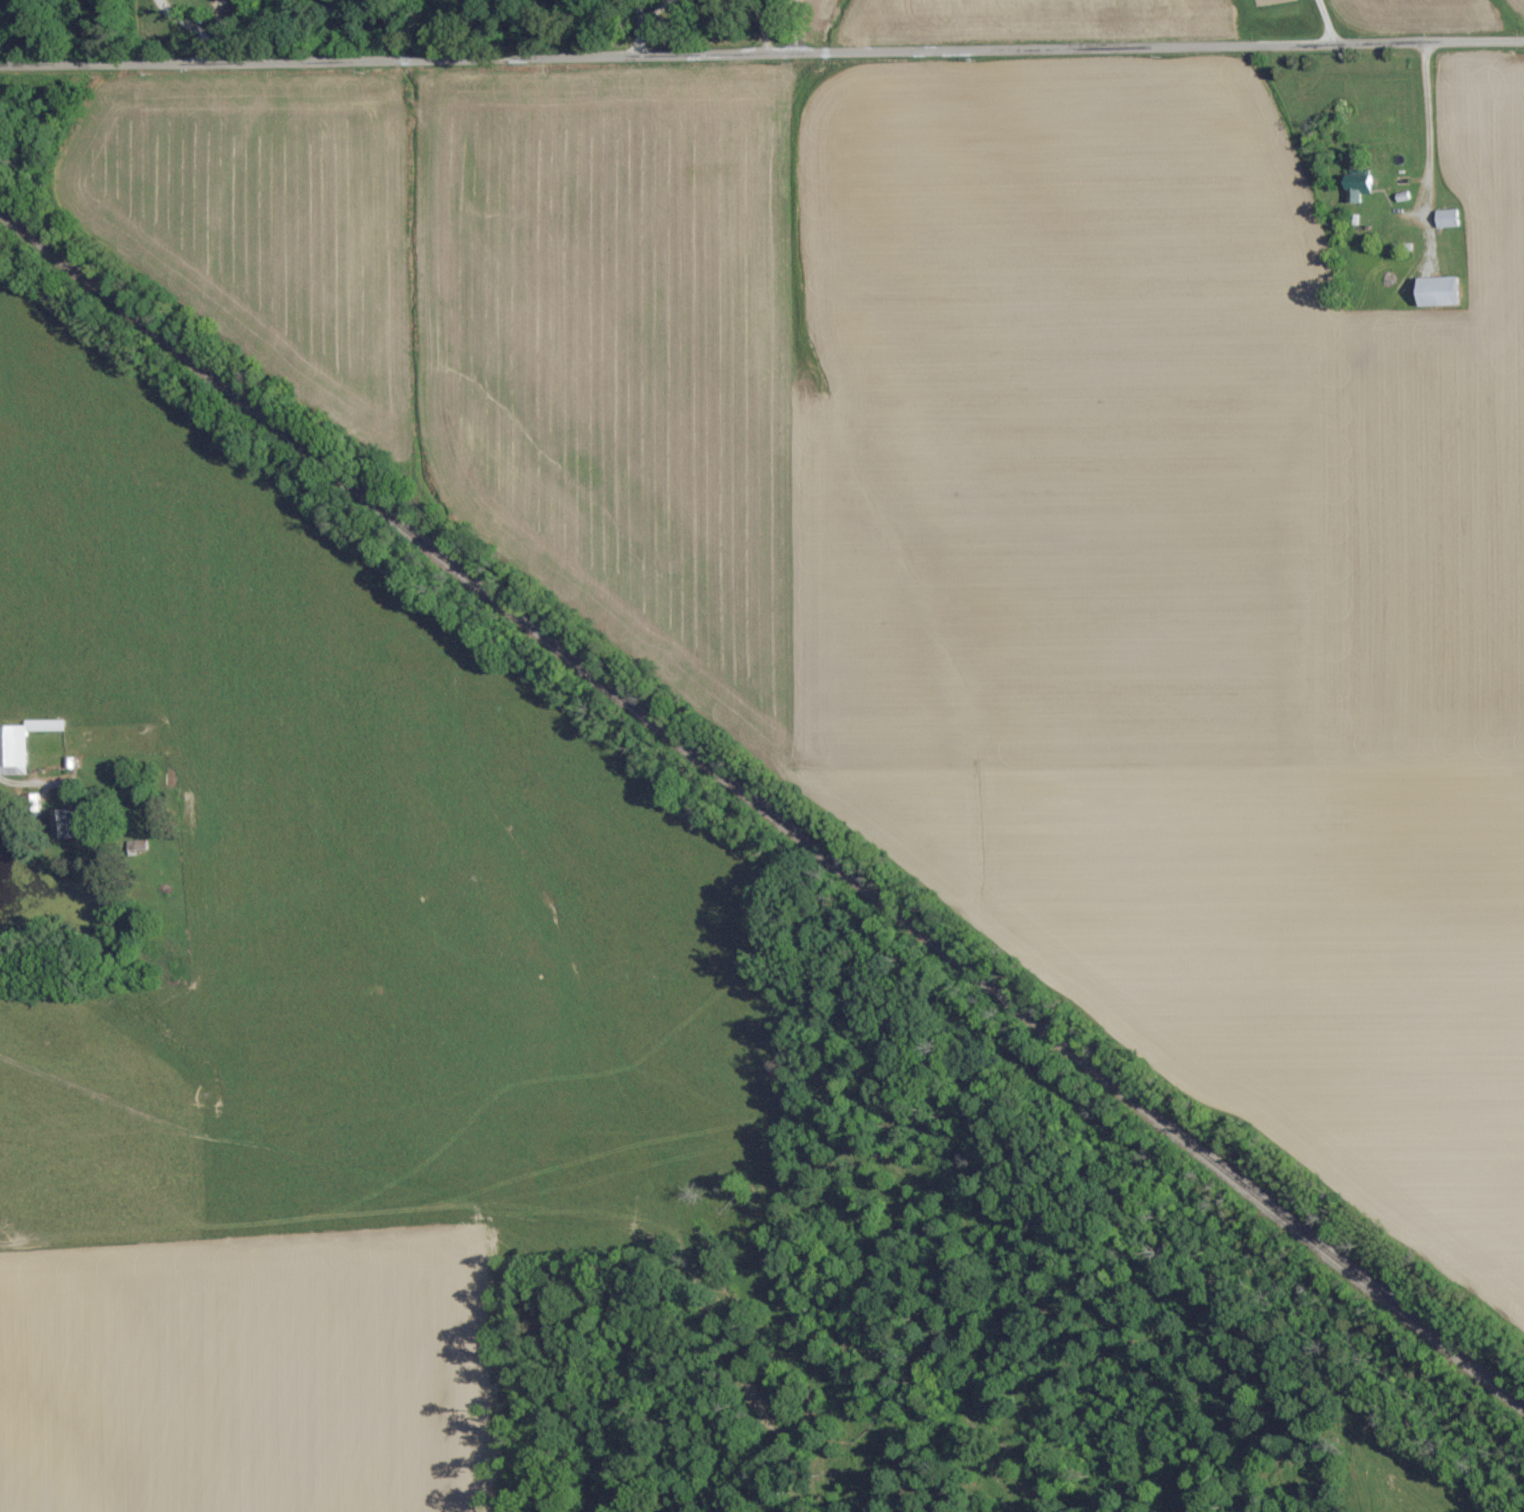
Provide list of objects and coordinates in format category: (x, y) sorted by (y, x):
road: (1325, 22)
road: (197, 25)
road: (644, 25)
road: (764, 26)
road: (761, 55)
road: (1430, 139)
building: (1357, 191)
building: (1447, 219)
building: (1440, 292)
building: (20, 745)
road: (24, 784)
railway: (762, 821)
building: (62, 827)

